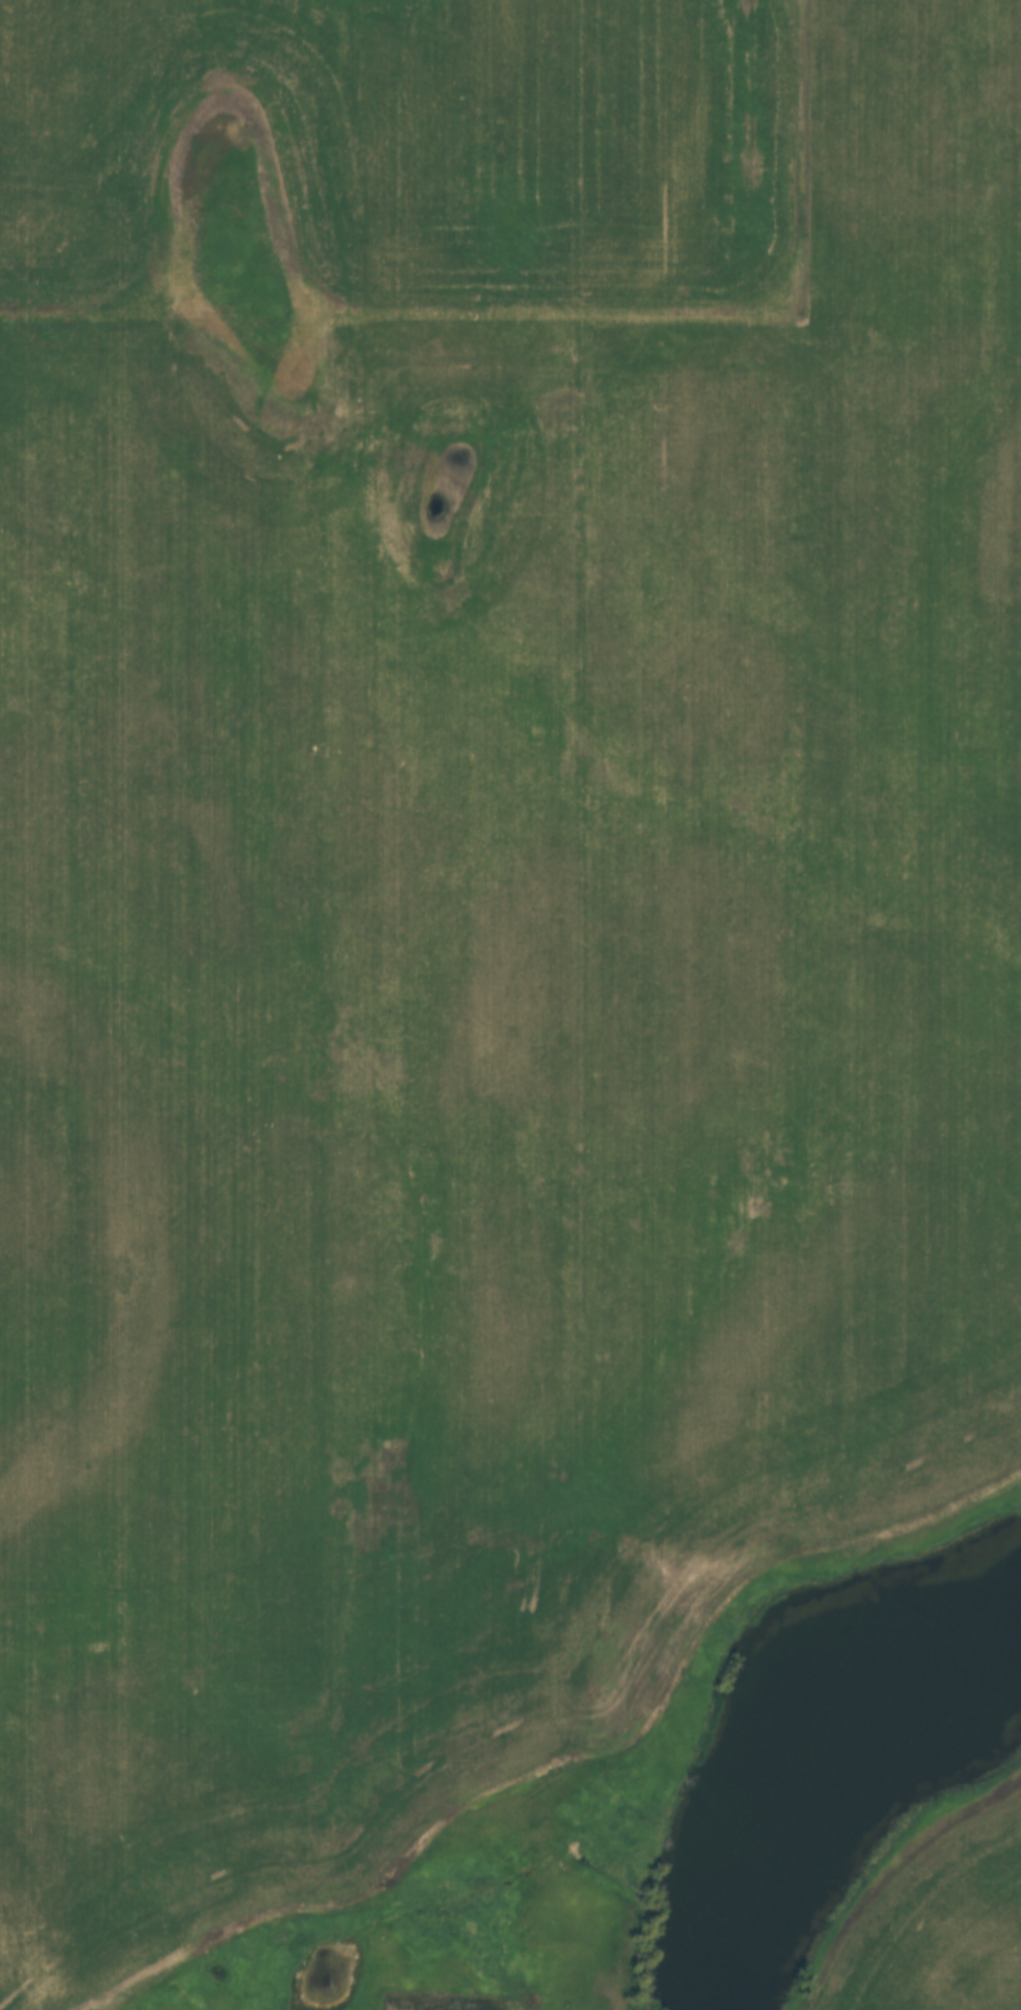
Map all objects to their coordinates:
dam: (642, 1998)

